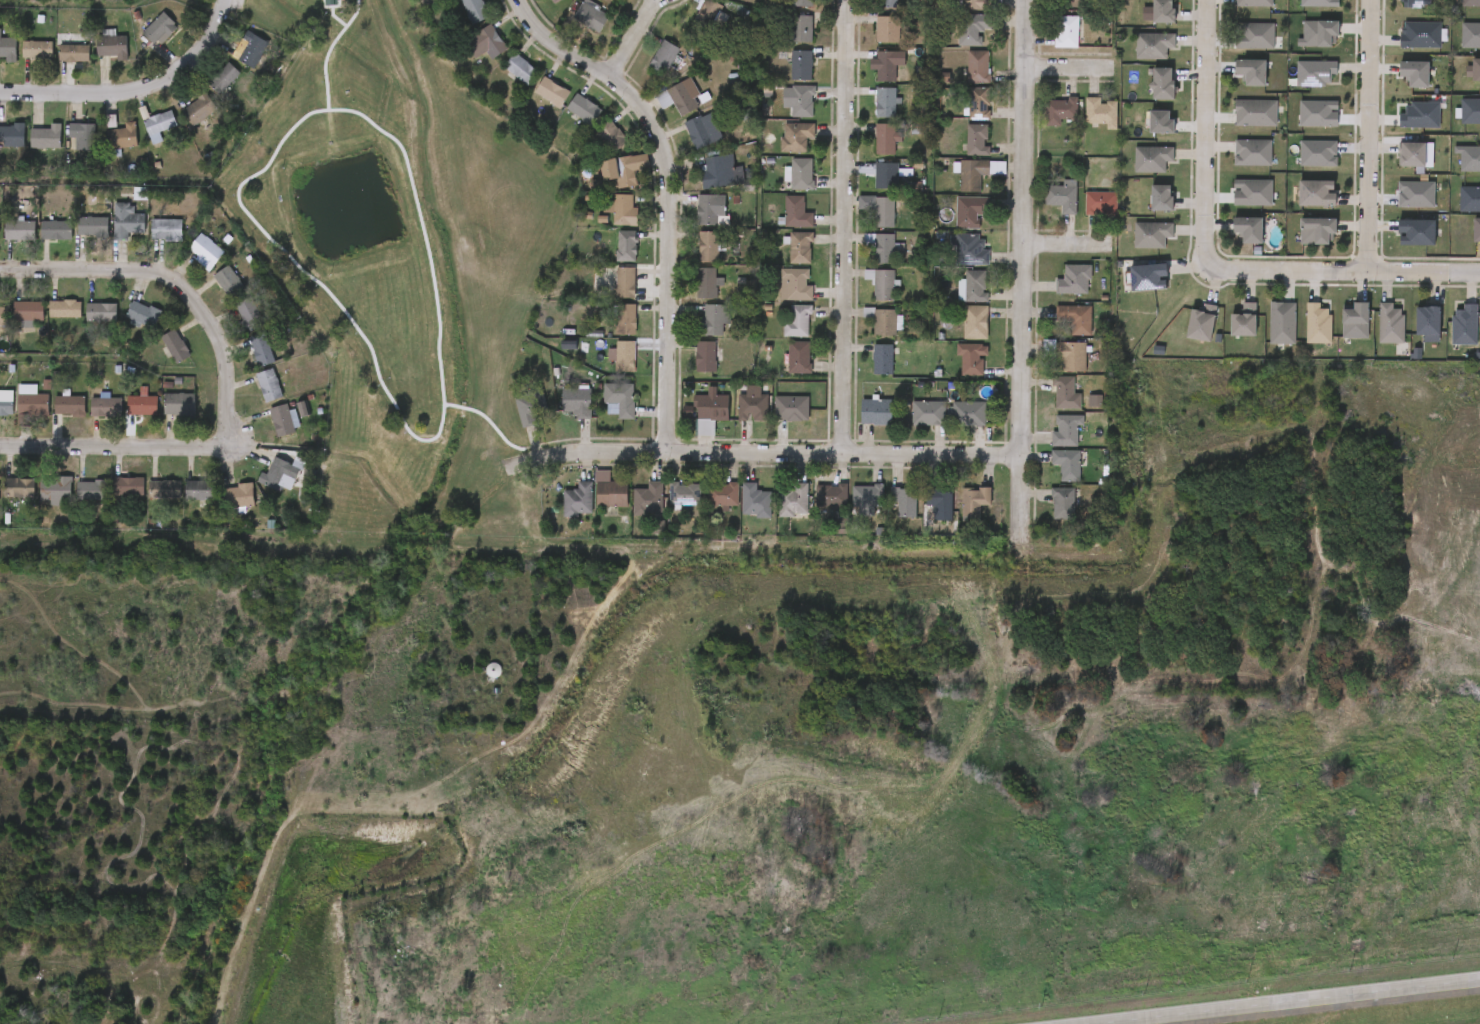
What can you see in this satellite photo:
building: (424, 0)
building: (438, 1)
building: (553, 1)
building: (802, 3)
building: (887, 3)
building: (1253, 3)
building: (977, 4)
building: (1071, 4)
building: (1415, 4)
building: (709, 9)
building: (475, 10)
building: (1161, 11)
building: (589, 16)
building: (457, 18)
building: (799, 27)
building: (159, 28)
building: (972, 28)
building: (887, 29)
building: (1318, 30)
building: (1064, 31)
building: (1470, 35)
building: (1420, 36)
building: (1253, 37)
building: (142, 40)
road: (632, 40)
building: (488, 41)
building: (111, 46)
building: (1152, 46)
building: (7, 48)
building: (37, 49)
building: (250, 49)
building: (73, 53)
building: (469, 54)
building: (663, 56)
building: (96, 58)
building: (20, 60)
building: (232, 60)
building: (56, 64)
building: (801, 65)
building: (885, 66)
building: (978, 66)
road: (1067, 67)
building: (520, 68)
building: (1249, 72)
building: (1474, 72)
building: (1316, 74)
building: (1412, 74)
building: (223, 78)
building: (502, 79)
building: (1161, 85)
road: (135, 88)
building: (206, 89)
building: (551, 92)
building: (679, 96)
building: (802, 101)
building: (885, 102)
building: (534, 103)
building: (978, 103)
building: (199, 108)
building: (583, 109)
building: (1057, 110)
building: (1317, 111)
building: (1097, 112)
building: (1470, 112)
building: (1255, 113)
building: (1418, 116)
building: (566, 120)
building: (181, 121)
building: (1159, 122)
building: (158, 125)
building: (702, 130)
building: (12, 135)
building: (82, 135)
building: (611, 135)
road: (1210, 135)
road: (1368, 135)
building: (123, 136)
building: (45, 137)
building: (141, 137)
building: (796, 137)
building: (886, 138)
building: (978, 139)
building: (593, 146)
building: (4, 147)
building: (66, 147)
building: (29, 148)
building: (105, 148)
building: (1317, 149)
building: (1252, 153)
building: (1410, 156)
building: (1151, 159)
building: (1468, 160)
building: (787, 170)
building: (620, 171)
building: (718, 171)
building: (977, 172)
building: (801, 173)
building: (886, 175)
building: (598, 183)
building: (1415, 189)
building: (1251, 193)
road: (670, 194)
building: (1315, 195)
building: (579, 196)
building: (1060, 196)
building: (1160, 199)
building: (1469, 199)
building: (1097, 202)
building: (621, 209)
building: (708, 209)
fountain: (339, 210)
building: (970, 210)
building: (796, 212)
building: (883, 212)
building: (596, 220)
building: (126, 221)
building: (93, 226)
road: (845, 226)
road: (1028, 228)
building: (166, 229)
building: (20, 230)
building: (56, 230)
building: (1246, 230)
building: (1316, 232)
building: (1475, 232)
building: (110, 233)
building: (1415, 234)
building: (1150, 235)
building: (76, 237)
building: (9, 241)
building: (39, 241)
building: (149, 241)
road: (1066, 245)
building: (626, 246)
building: (880, 246)
building: (707, 247)
building: (800, 247)
building: (970, 248)
building: (205, 251)
building: (189, 262)
road: (1345, 271)
building: (1072, 279)
building: (1146, 279)
road: (174, 281)
building: (228, 282)
building: (625, 282)
building: (706, 282)
building: (881, 283)
building: (795, 284)
building: (975, 285)
building: (211, 293)
building: (608, 293)
building: (65, 309)
building: (28, 312)
building: (101, 313)
building: (142, 314)
building: (248, 315)
building: (3, 316)
building: (1073, 318)
building: (625, 319)
building: (48, 320)
building: (798, 321)
building: (884, 321)
building: (1242, 321)
building: (714, 322)
building: (975, 322)
building: (1354, 322)
building: (1426, 322)
building: (1282, 323)
building: (84, 324)
building: (1199, 324)
building: (1317, 324)
building: (1390, 324)
building: (232, 325)
building: (125, 326)
building: (1464, 326)
building: (609, 330)
building: (174, 346)
building: (260, 350)
building: (625, 356)
building: (705, 356)
building: (1068, 356)
building: (158, 357)
building: (799, 357)
building: (971, 358)
building: (882, 359)
building: (243, 360)
building: (606, 367)
building: (268, 385)
building: (1063, 394)
building: (251, 396)
building: (619, 396)
building: (577, 401)
building: (33, 404)
building: (752, 404)
building: (5, 405)
building: (69, 405)
building: (142, 405)
building: (178, 405)
building: (529, 406)
building: (104, 407)
building: (791, 407)
building: (711, 410)
building: (602, 411)
building: (877, 412)
building: (969, 412)
building: (559, 413)
building: (928, 413)
building: (125, 415)
building: (162, 415)
building: (53, 417)
building: (89, 417)
building: (281, 420)
building: (509, 422)
building: (1062, 429)
building: (266, 431)
road: (114, 446)
road: (765, 453)
building: (1064, 464)
building: (276, 474)
building: (262, 484)
building: (128, 486)
building: (19, 489)
building: (165, 489)
building: (55, 490)
building: (92, 490)
building: (200, 490)
building: (612, 493)
building: (685, 493)
building: (722, 494)
building: (870, 495)
road: (1021, 495)
building: (238, 496)
building: (832, 496)
building: (112, 497)
building: (9, 499)
building: (577, 499)
building: (648, 499)
building: (147, 500)
building: (755, 500)
building: (794, 500)
building: (904, 500)
building: (975, 500)
building: (39, 501)
building: (182, 501)
building: (73, 502)
building: (593, 502)
building: (941, 504)
building: (1060, 504)
building: (221, 508)
building: (561, 511)
road: (1295, 1002)

